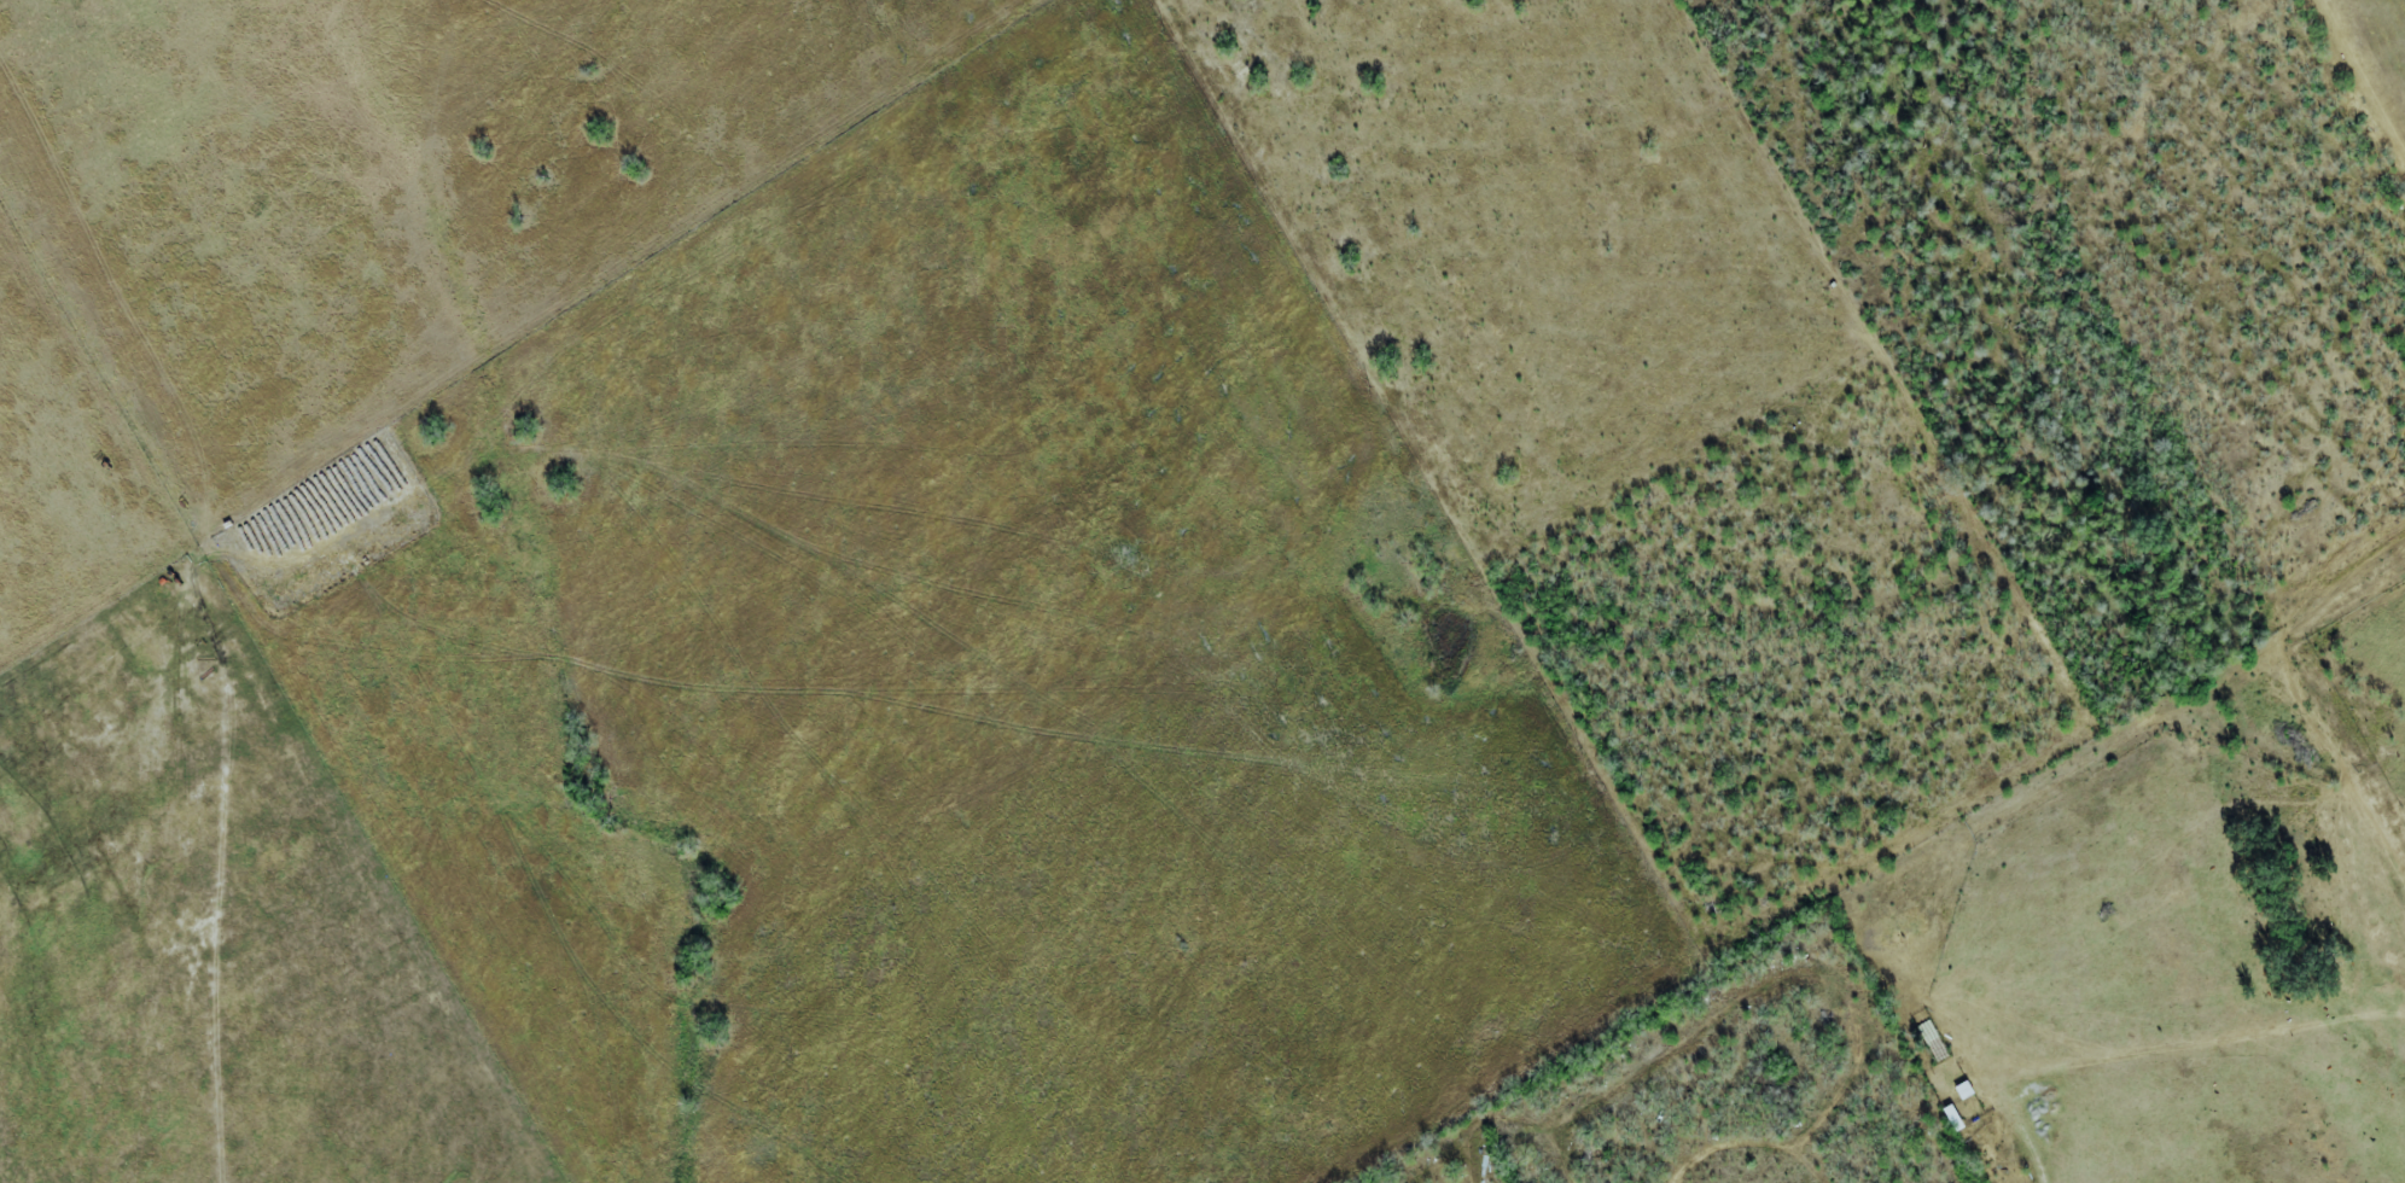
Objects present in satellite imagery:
road: (2025, 1141)

